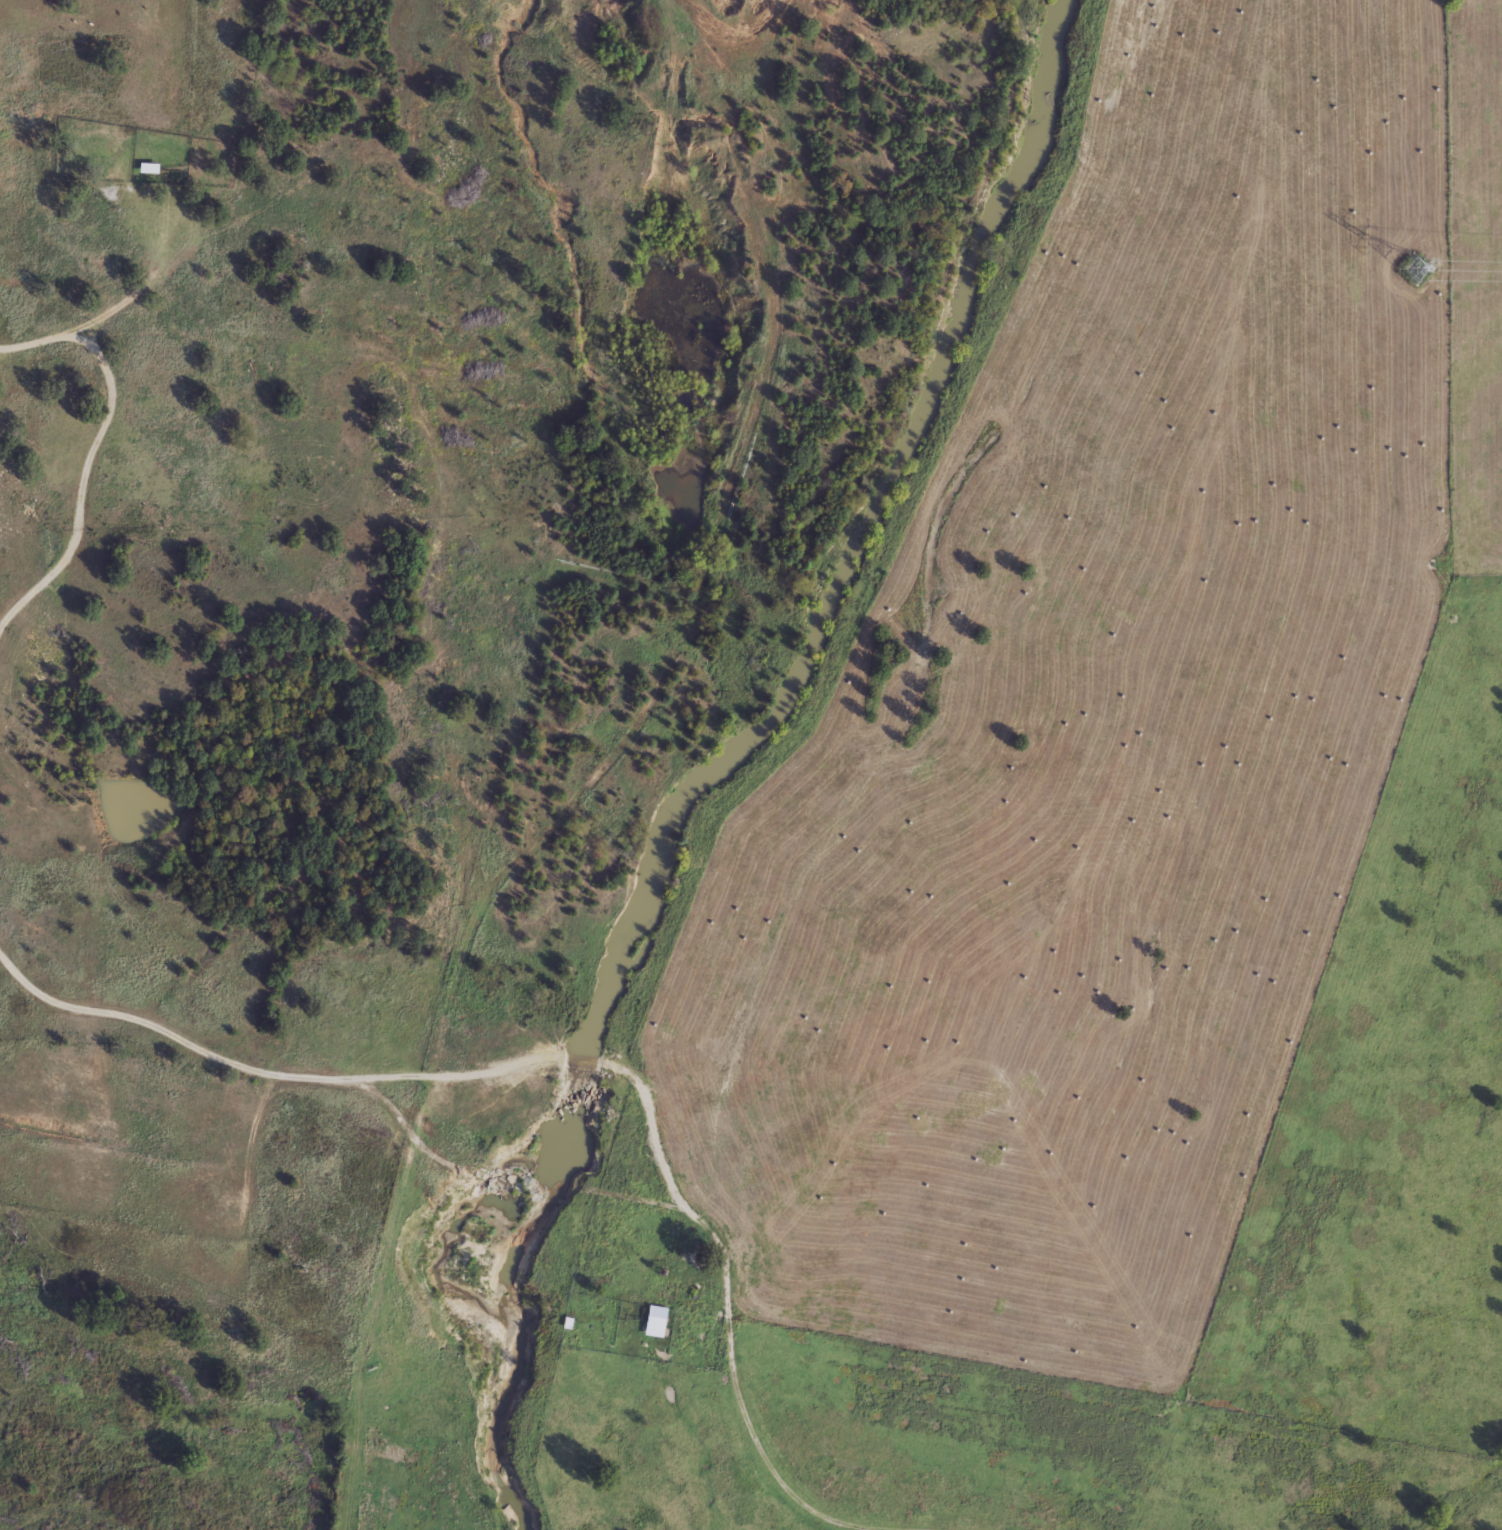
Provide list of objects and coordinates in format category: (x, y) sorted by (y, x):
road: (714, 19)
building: (94, 245)
power tower: (1410, 268)
road: (49, 345)

